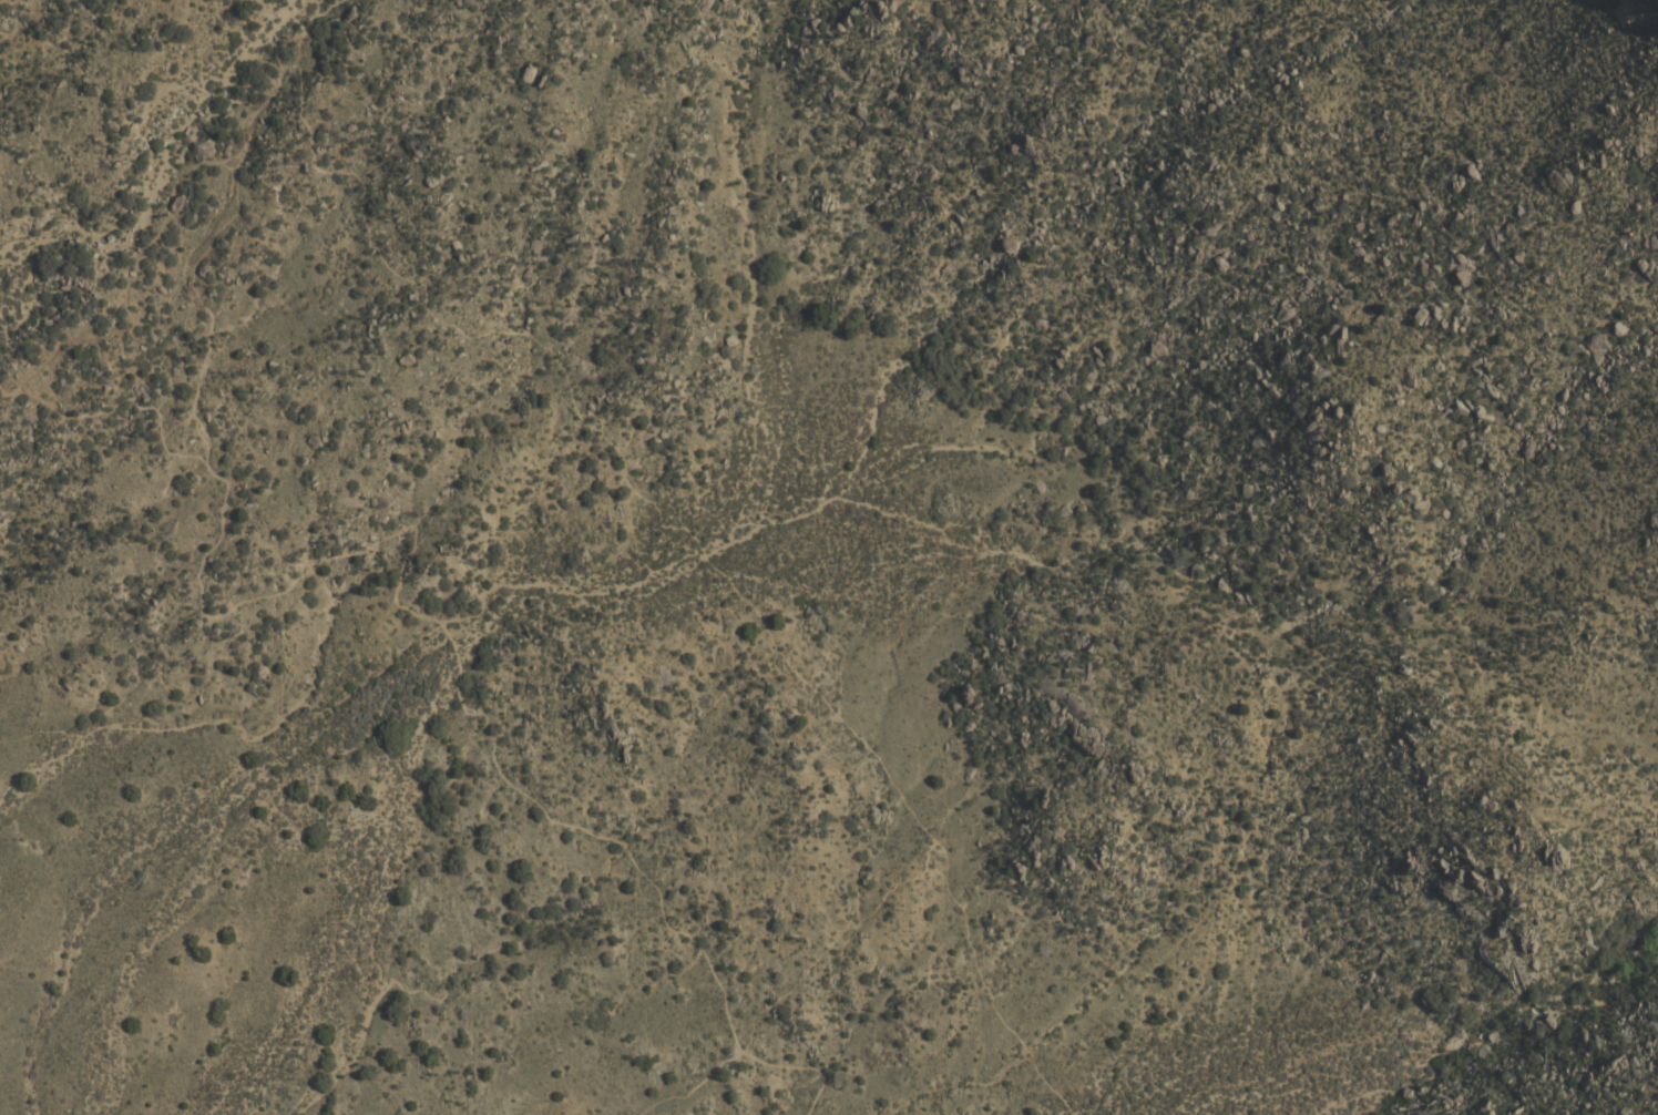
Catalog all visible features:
road: (218, 219)
road: (132, 275)
road: (741, 282)
road: (700, 546)
road: (409, 595)
road: (689, 1086)

